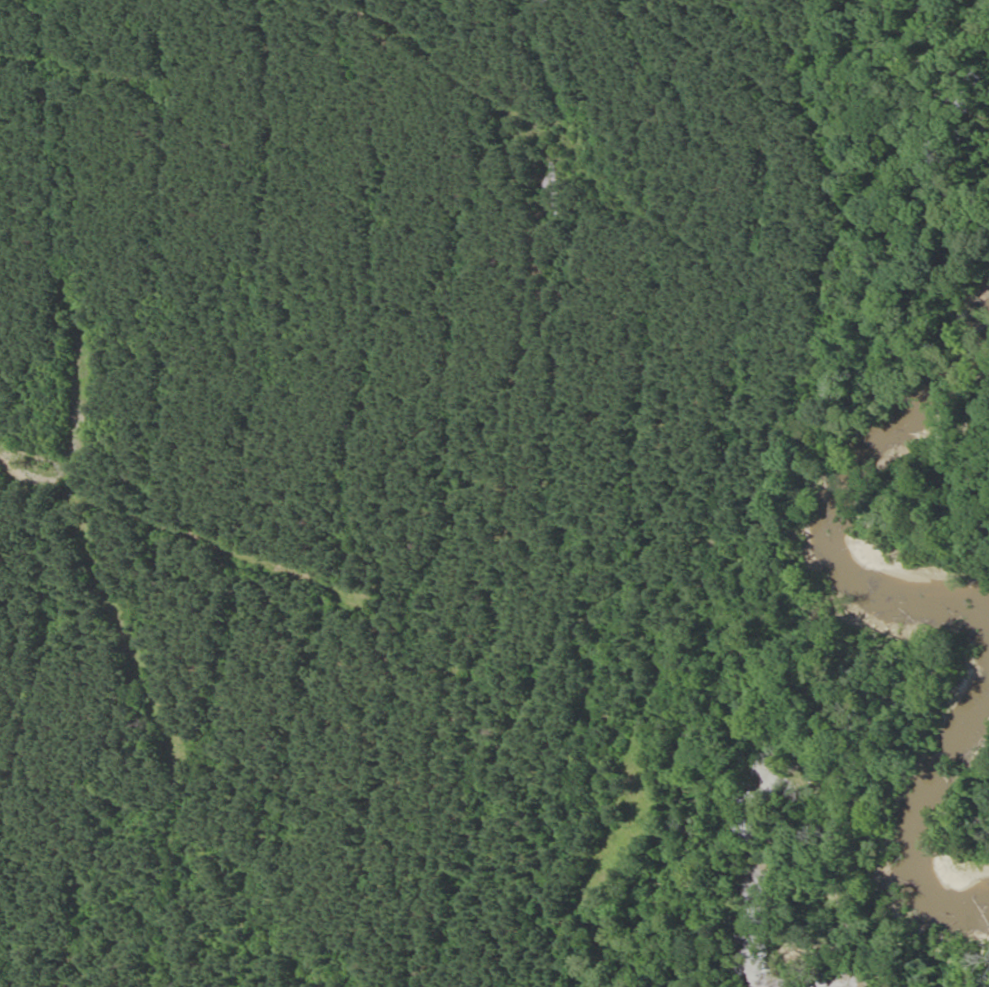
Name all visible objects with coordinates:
river: (842, 485)
river: (933, 781)

